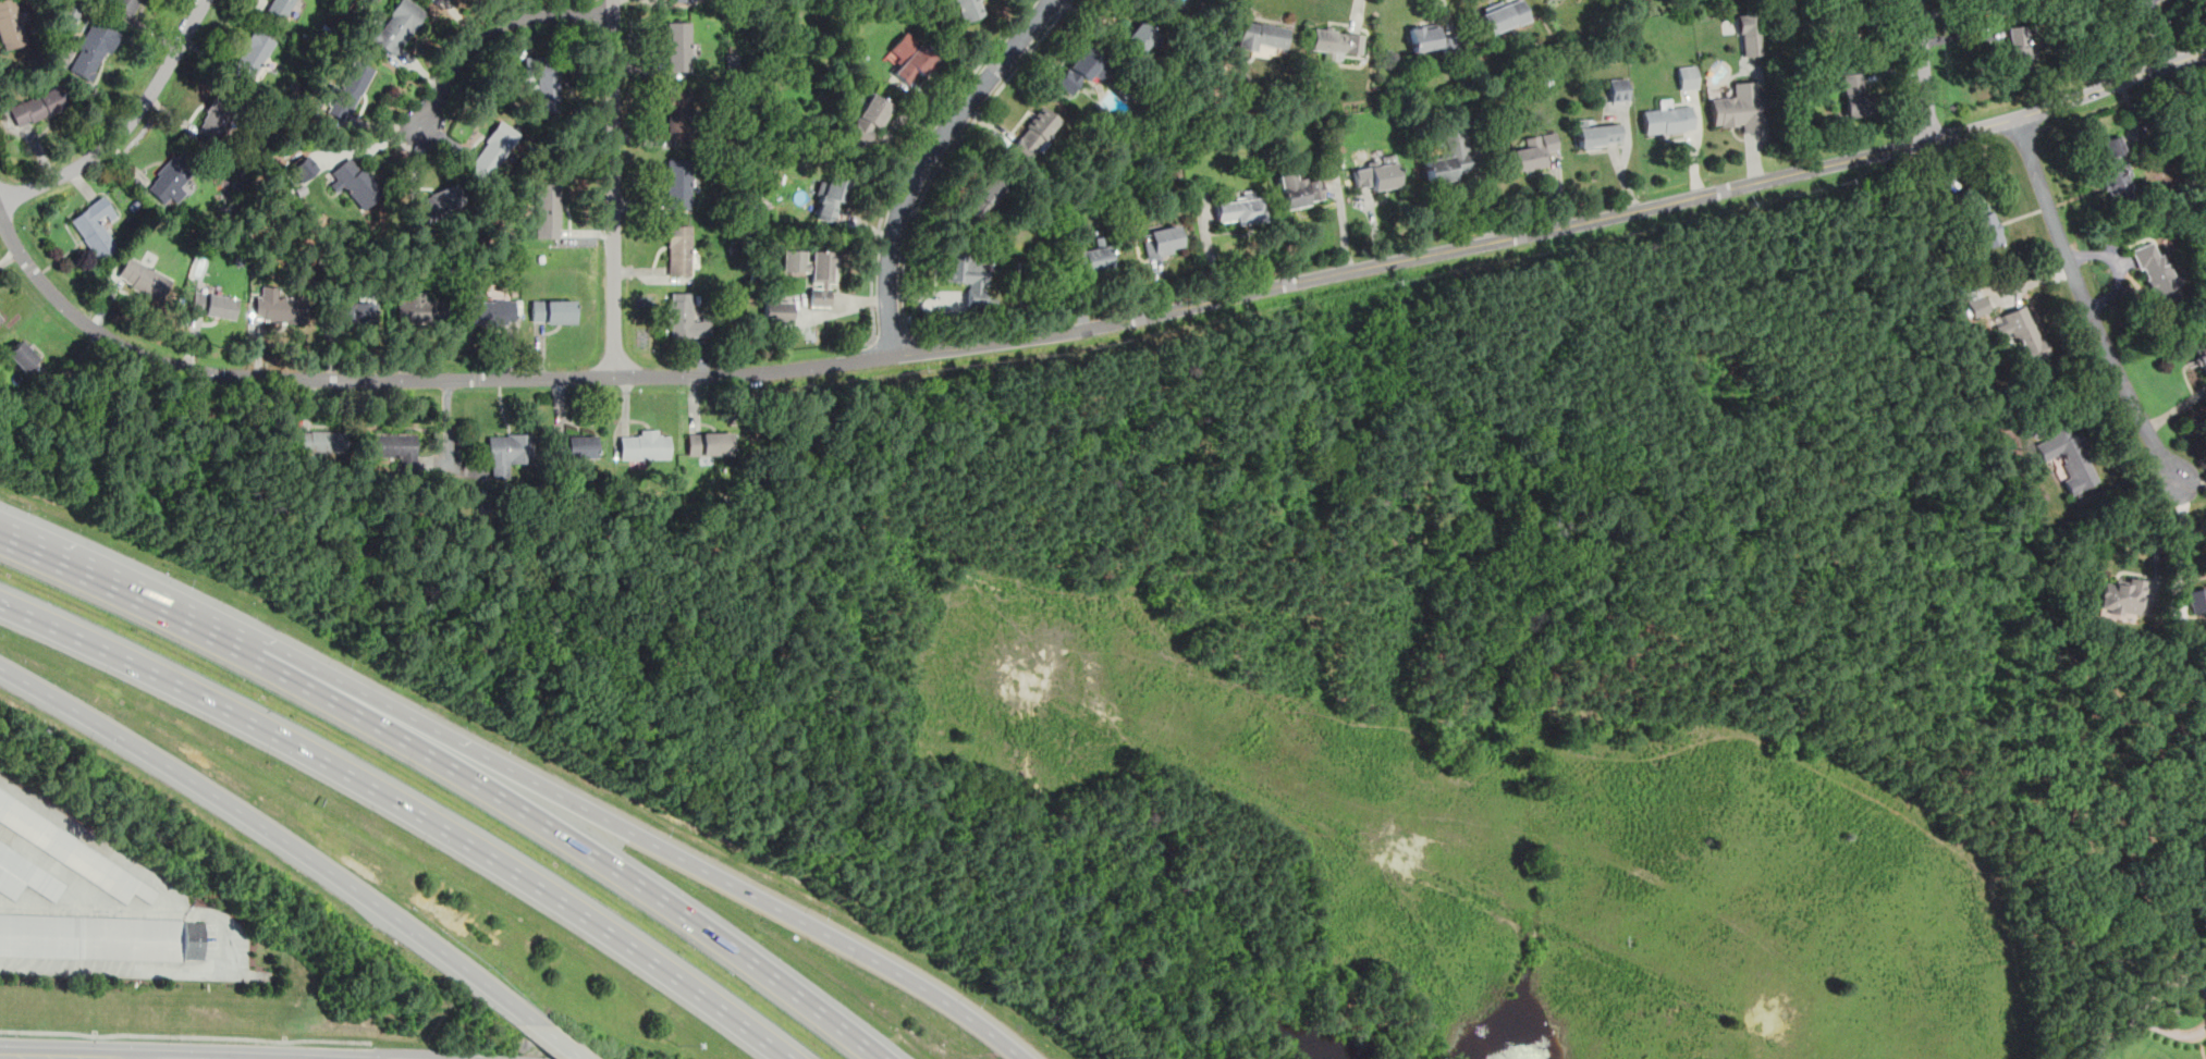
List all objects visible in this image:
building: (679, 1)
building: (1996, 1)
building: (126, 4)
building: (280, 8)
building: (965, 8)
building: (70, 14)
building: (1504, 16)
building: (11, 24)
building: (1850, 24)
building: (397, 25)
road: (497, 30)
building: (1750, 33)
road: (2159, 33)
building: (1260, 35)
building: (1429, 36)
building: (1139, 37)
building: (1336, 40)
building: (679, 46)
building: (2019, 48)
building: (94, 50)
building: (253, 54)
building: (914, 63)
building: (1081, 70)
road: (1923, 70)
building: (1687, 76)
building: (546, 81)
building: (1619, 88)
building: (348, 90)
building: (1854, 94)
building: (38, 106)
building: (1738, 107)
building: (679, 114)
building: (1667, 118)
building: (217, 119)
building: (870, 120)
road: (388, 124)
road: (130, 132)
building: (1033, 133)
building: (1596, 134)
road: (445, 138)
road: (375, 145)
building: (495, 149)
building: (1535, 150)
road: (909, 156)
road: (945, 156)
road: (417, 158)
building: (1450, 158)
road: (924, 159)
building: (2115, 168)
building: (304, 169)
building: (1376, 175)
building: (171, 178)
building: (356, 181)
building: (679, 183)
road: (612, 188)
building: (1299, 189)
building: (985, 197)
building: (831, 198)
building: (440, 201)
building: (1242, 209)
building: (548, 210)
building: (1978, 217)
building: (96, 226)
building: (1163, 241)
building: (681, 249)
building: (1092, 257)
building: (813, 271)
building: (2157, 272)
building: (966, 275)
building: (143, 278)
building: (213, 304)
road: (2087, 304)
building: (1977, 305)
building: (278, 306)
building: (418, 309)
building: (553, 310)
building: (777, 310)
building: (491, 311)
building: (355, 312)
building: (1, 317)
building: (685, 317)
building: (0, 321)
road: (1084, 327)
building: (2024, 332)
road: (908, 333)
road: (892, 335)
road: (875, 336)
building: (22, 355)
building: (2201, 355)
building: (323, 441)
building: (707, 443)
building: (393, 444)
building: (645, 444)
building: (575, 445)
building: (508, 452)
building: (2068, 455)
road: (2192, 481)
street lamp: (23, 503)
road: (2156, 542)
road: (2181, 544)
street lamp: (186, 576)
road: (91, 580)
building: (2122, 595)
building: (2196, 598)
street lamp: (345, 657)
road: (309, 664)
street lamp: (114, 679)
street lamp: (506, 742)
street lamp: (103, 747)
street lamp: (274, 761)
road: (408, 806)
road: (543, 823)
street lamp: (664, 824)
road: (275, 833)
street lamp: (250, 839)
road: (96, 841)
street lamp: (431, 848)
building: (71, 849)
building: (25, 875)
road: (731, 884)
street lamp: (820, 907)
road: (58, 908)
road: (228, 932)
building: (90, 936)
building: (194, 939)
street lamp: (394, 941)
street lamp: (971, 995)
road: (2128, 1023)
road: (187, 1035)
street lamp: (181, 1038)
road: (559, 1040)
street lamp: (679, 1043)
road: (2106, 1043)
street lamp: (367, 1045)

